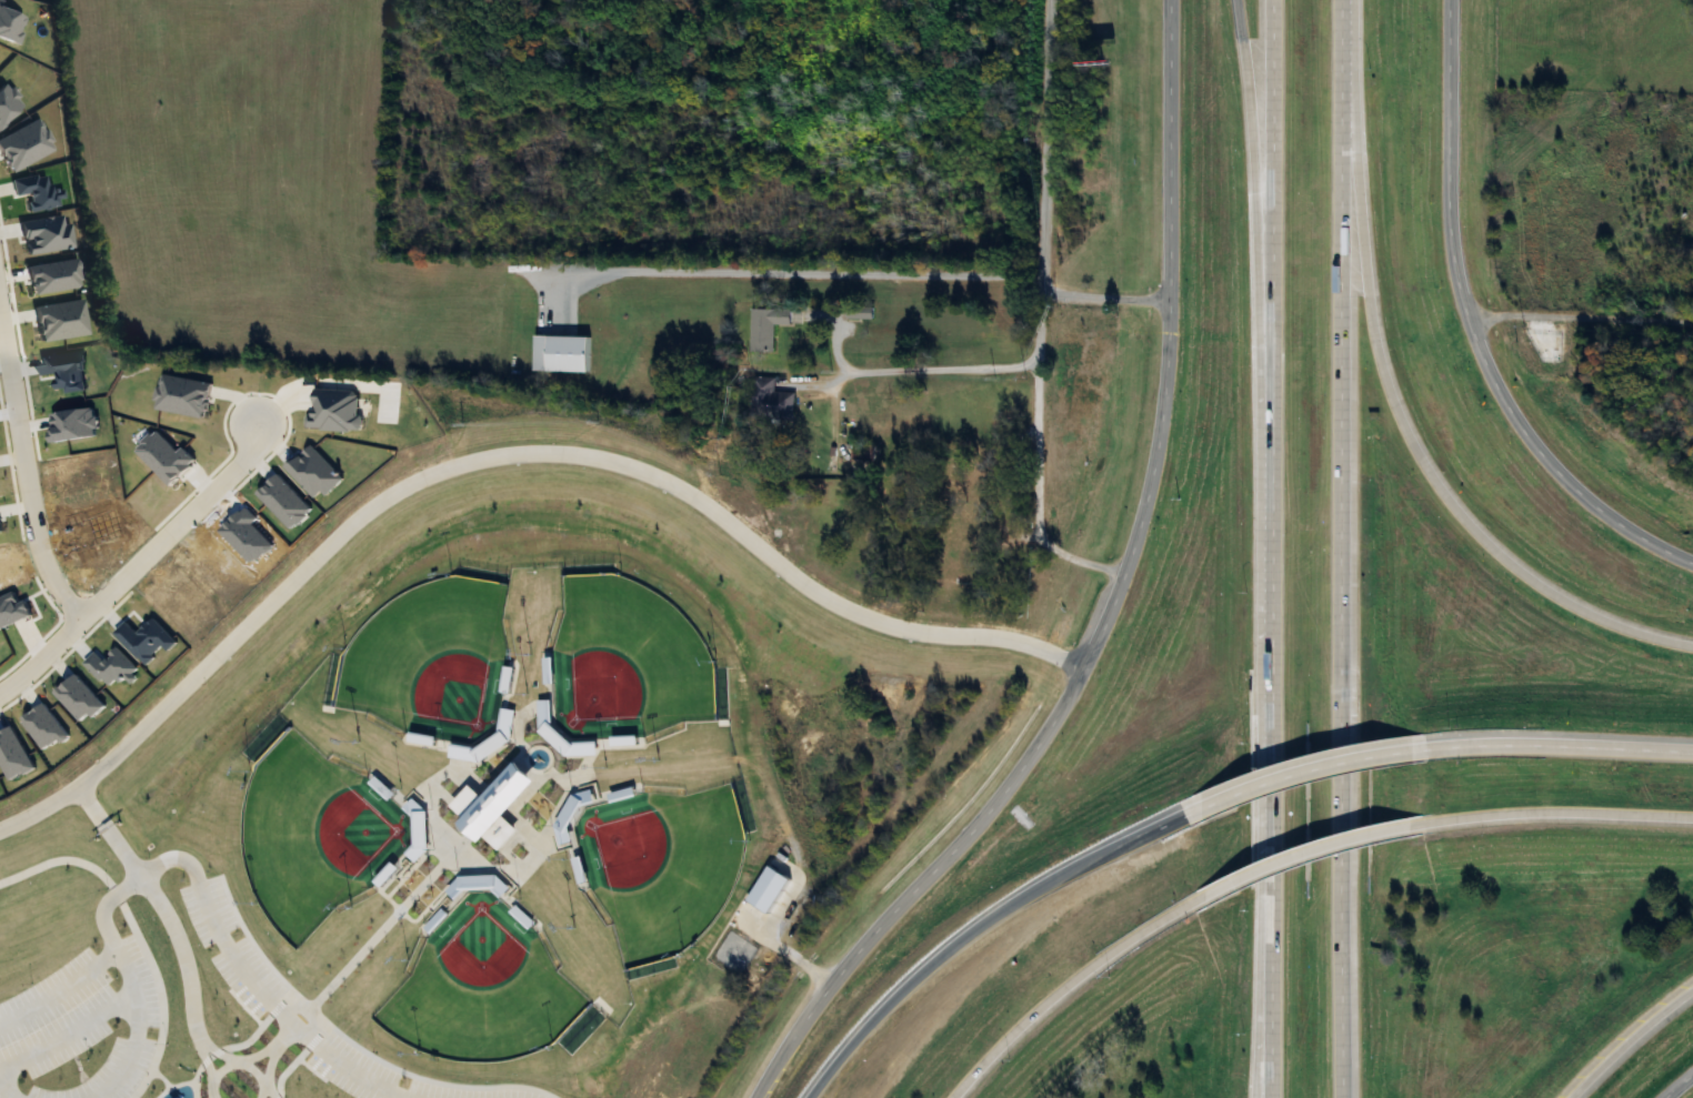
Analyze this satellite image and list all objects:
road: (1342, 53)
road: (1039, 213)
road: (1254, 231)
road: (1271, 231)
building: (1687, 252)
road: (788, 268)
building: (858, 313)
road: (1580, 319)
building: (765, 324)
road: (1471, 329)
building: (560, 353)
road: (916, 365)
building: (1002, 401)
building: (770, 402)
road: (501, 440)
road: (1415, 447)
road: (1035, 463)
road: (24, 469)
building: (821, 487)
building: (950, 491)
building: (946, 558)
road: (137, 562)
road: (1340, 602)
road: (1110, 603)
park: (429, 651)
park: (623, 653)
road: (1271, 687)
road: (1560, 746)
road: (1309, 769)
building: (489, 806)
road: (1556, 813)
park: (497, 815)
park: (313, 832)
road: (1308, 852)
park: (661, 863)
road: (191, 866)
building: (765, 890)
road: (160, 901)
road: (983, 927)
road: (377, 930)
road: (136, 931)
road: (1066, 985)
park: (480, 987)
road: (60, 988)
road: (1259, 1005)
road: (1270, 1006)
road: (68, 1030)
road: (282, 1036)
road: (1631, 1042)
road: (223, 1046)
road: (271, 1049)
road: (219, 1051)
road: (206, 1060)
road: (236, 1061)
road: (285, 1066)
road: (161, 1076)
road: (172, 1085)
road: (1679, 1085)
road: (267, 1091)
road: (9, 1092)

